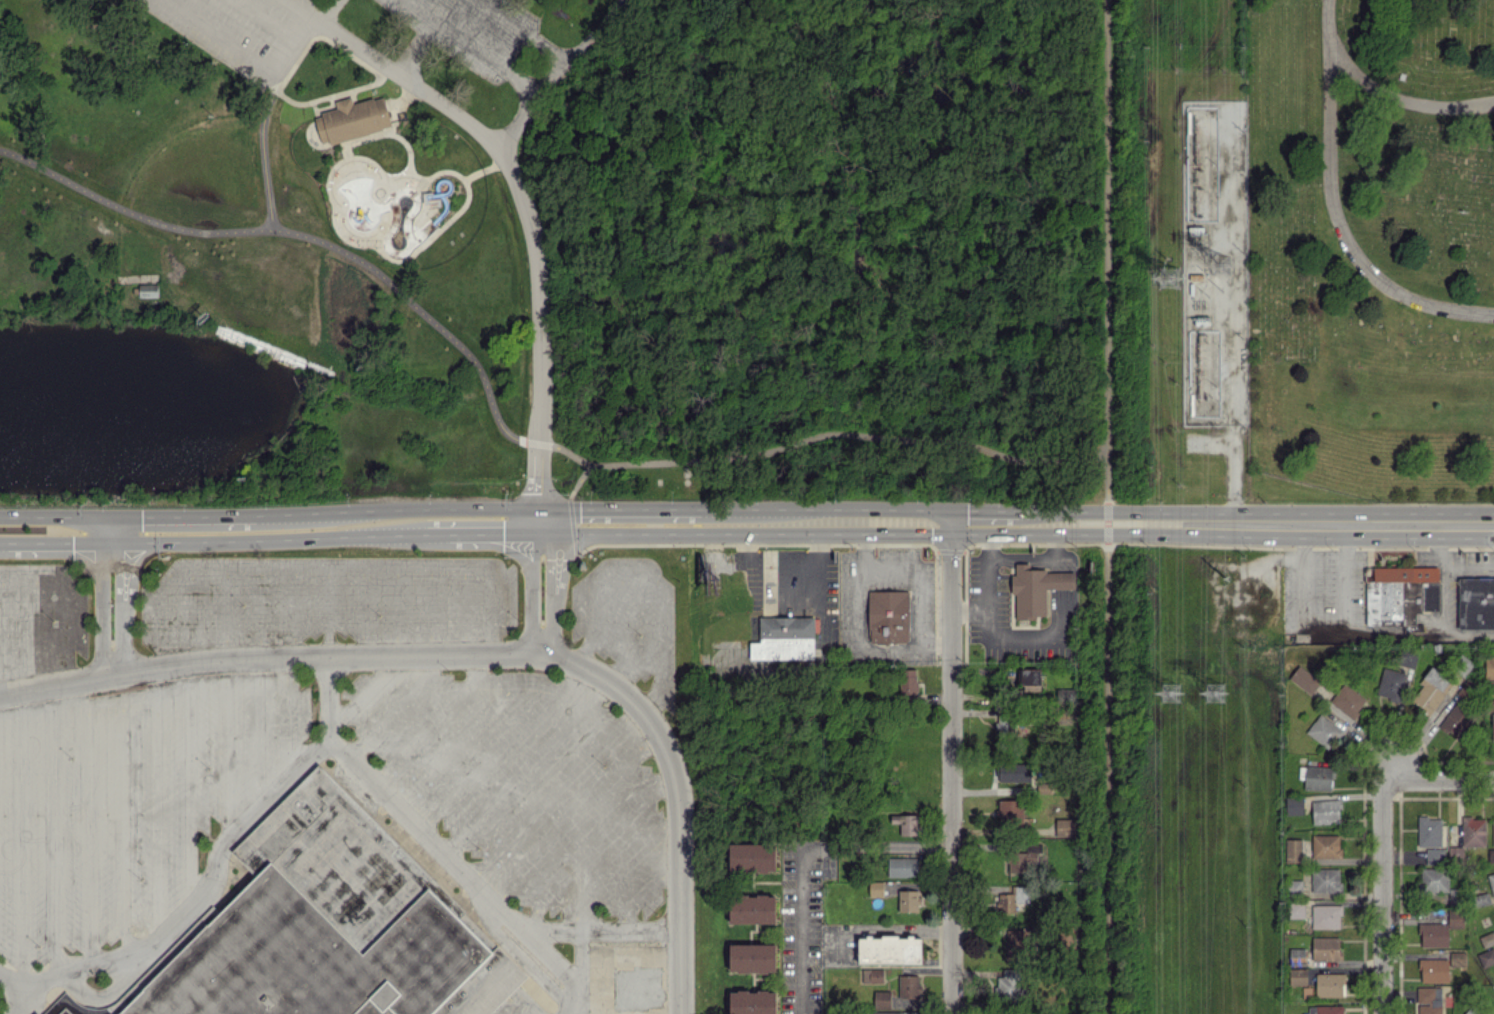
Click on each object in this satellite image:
road: (299, 7)
road: (329, 11)
road: (263, 20)
parking lot: (471, 29)
parking lot: (246, 30)
road: (520, 30)
road: (475, 46)
road: (247, 55)
building: (59, 61)
road: (556, 71)
road: (1397, 98)
building: (352, 119)
road: (262, 155)
road: (519, 184)
water park: (392, 204)
road: (1333, 208)
road: (130, 211)
park: (1370, 249)
road: (1110, 250)
power tower: (1221, 263)
power substation: (1214, 264)
power tower: (1169, 277)
building: (148, 289)
road: (428, 314)
dam: (270, 351)
road: (830, 434)
road: (566, 452)
road: (537, 482)
road: (545, 494)
road: (440, 507)
road: (501, 508)
traffic signals: (533, 509)
traffic signals: (547, 509)
road: (650, 509)
road: (861, 509)
road: (372, 511)
road: (1107, 512)
road: (49, 515)
traffic signals: (98, 516)
road: (106, 516)
road: (293, 516)
traffic signals: (115, 517)
road: (183, 517)
road: (1254, 524)
traffic signals: (953, 525)
road: (984, 525)
road: (572, 526)
road: (99, 529)
road: (115, 529)
road: (652, 534)
road: (856, 534)
road: (1107, 534)
road: (461, 535)
road: (502, 535)
traffic signals: (532, 535)
road: (540, 535)
traffic signals: (548, 535)
road: (437, 536)
road: (340, 537)
road: (185, 540)
road: (67, 542)
traffic signals: (100, 542)
road: (107, 542)
traffic signals: (115, 542)
road: (2, 543)
road: (19, 543)
road: (1444, 546)
road: (494, 547)
road: (70, 552)
road: (1022, 555)
traffic signals: (142, 560)
road: (1057, 563)
road: (1469, 568)
road: (330, 574)
road: (559, 578)
road: (1059, 580)
road: (130, 581)
road: (530, 581)
road: (653, 584)
building: (1035, 589)
building: (1401, 594)
road: (547, 595)
road: (1444, 596)
road: (986, 598)
road: (66, 599)
parking lot: (326, 601)
building: (1476, 603)
road: (115, 608)
road: (99, 609)
road: (441, 614)
road: (290, 615)
road: (328, 615)
road: (365, 615)
road: (401, 615)
road: (256, 616)
building: (888, 616)
road: (221, 617)
parking lot: (40, 619)
road: (187, 619)
parking lot: (628, 622)
road: (1323, 629)
road: (44, 631)
road: (1031, 633)
road: (1398, 633)
road: (9, 634)
road: (1467, 635)
road: (920, 637)
building: (784, 638)
road: (636, 642)
road: (937, 643)
road: (484, 655)
building: (1407, 657)
building: (1489, 666)
road: (476, 669)
building: (1030, 679)
building: (1304, 679)
building: (908, 682)
building: (1391, 683)
road: (491, 684)
building: (1491, 687)
building: (1431, 689)
road: (368, 691)
power tower: (1223, 693)
building: (1065, 695)
road: (119, 697)
power tower: (1171, 697)
building: (1347, 700)
road: (328, 701)
road: (396, 710)
road: (290, 716)
building: (1492, 719)
building: (1002, 721)
building: (1457, 721)
building: (1323, 730)
road: (257, 732)
road: (421, 734)
road: (456, 745)
road: (500, 747)
road: (223, 751)
road: (528, 768)
road: (953, 769)
building: (1014, 771)
building: (1318, 777)
road: (1440, 778)
road: (1108, 779)
parking lot: (522, 782)
road: (189, 788)
road: (554, 794)
road: (155, 805)
building: (1294, 805)
parking lot: (125, 808)
building: (1010, 811)
building: (1326, 811)
road: (575, 819)
building: (906, 823)
road: (87, 824)
building: (1064, 826)
road: (123, 828)
road: (54, 831)
building: (1429, 831)
building: (1493, 831)
road: (21, 836)
building: (1469, 836)
road: (877, 844)
building: (1326, 845)
road: (595, 849)
building: (1293, 850)
building: (1435, 855)
building: (1491, 855)
building: (752, 857)
building: (1022, 860)
building: (902, 866)
road: (458, 869)
road: (622, 871)
building: (1434, 879)
building: (1326, 880)
building: (1491, 882)
building: (1296, 885)
building: (876, 888)
road: (645, 893)
road: (1385, 896)
building: (1009, 899)
building: (908, 900)
road: (196, 906)
building: (752, 908)
building: (1295, 910)
building: (1326, 916)
building: (323, 928)
road: (800, 929)
building: (1441, 929)
road: (601, 932)
building: (1487, 939)
building: (1014, 943)
building: (1326, 947)
building: (890, 949)
building: (1297, 954)
building: (752, 957)
building: (1486, 957)
building: (1457, 958)
road: (583, 964)
road: (633, 967)
building: (1434, 969)
building: (872, 975)
parking lot: (622, 976)
building: (1298, 977)
building: (1329, 984)
building: (908, 985)
road: (109, 992)
road: (32, 996)
building: (882, 998)
building: (1429, 1000)
building: (752, 1002)
road: (574, 1005)
road: (628, 1007)
building: (1326, 1009)
building: (35, 1012)

